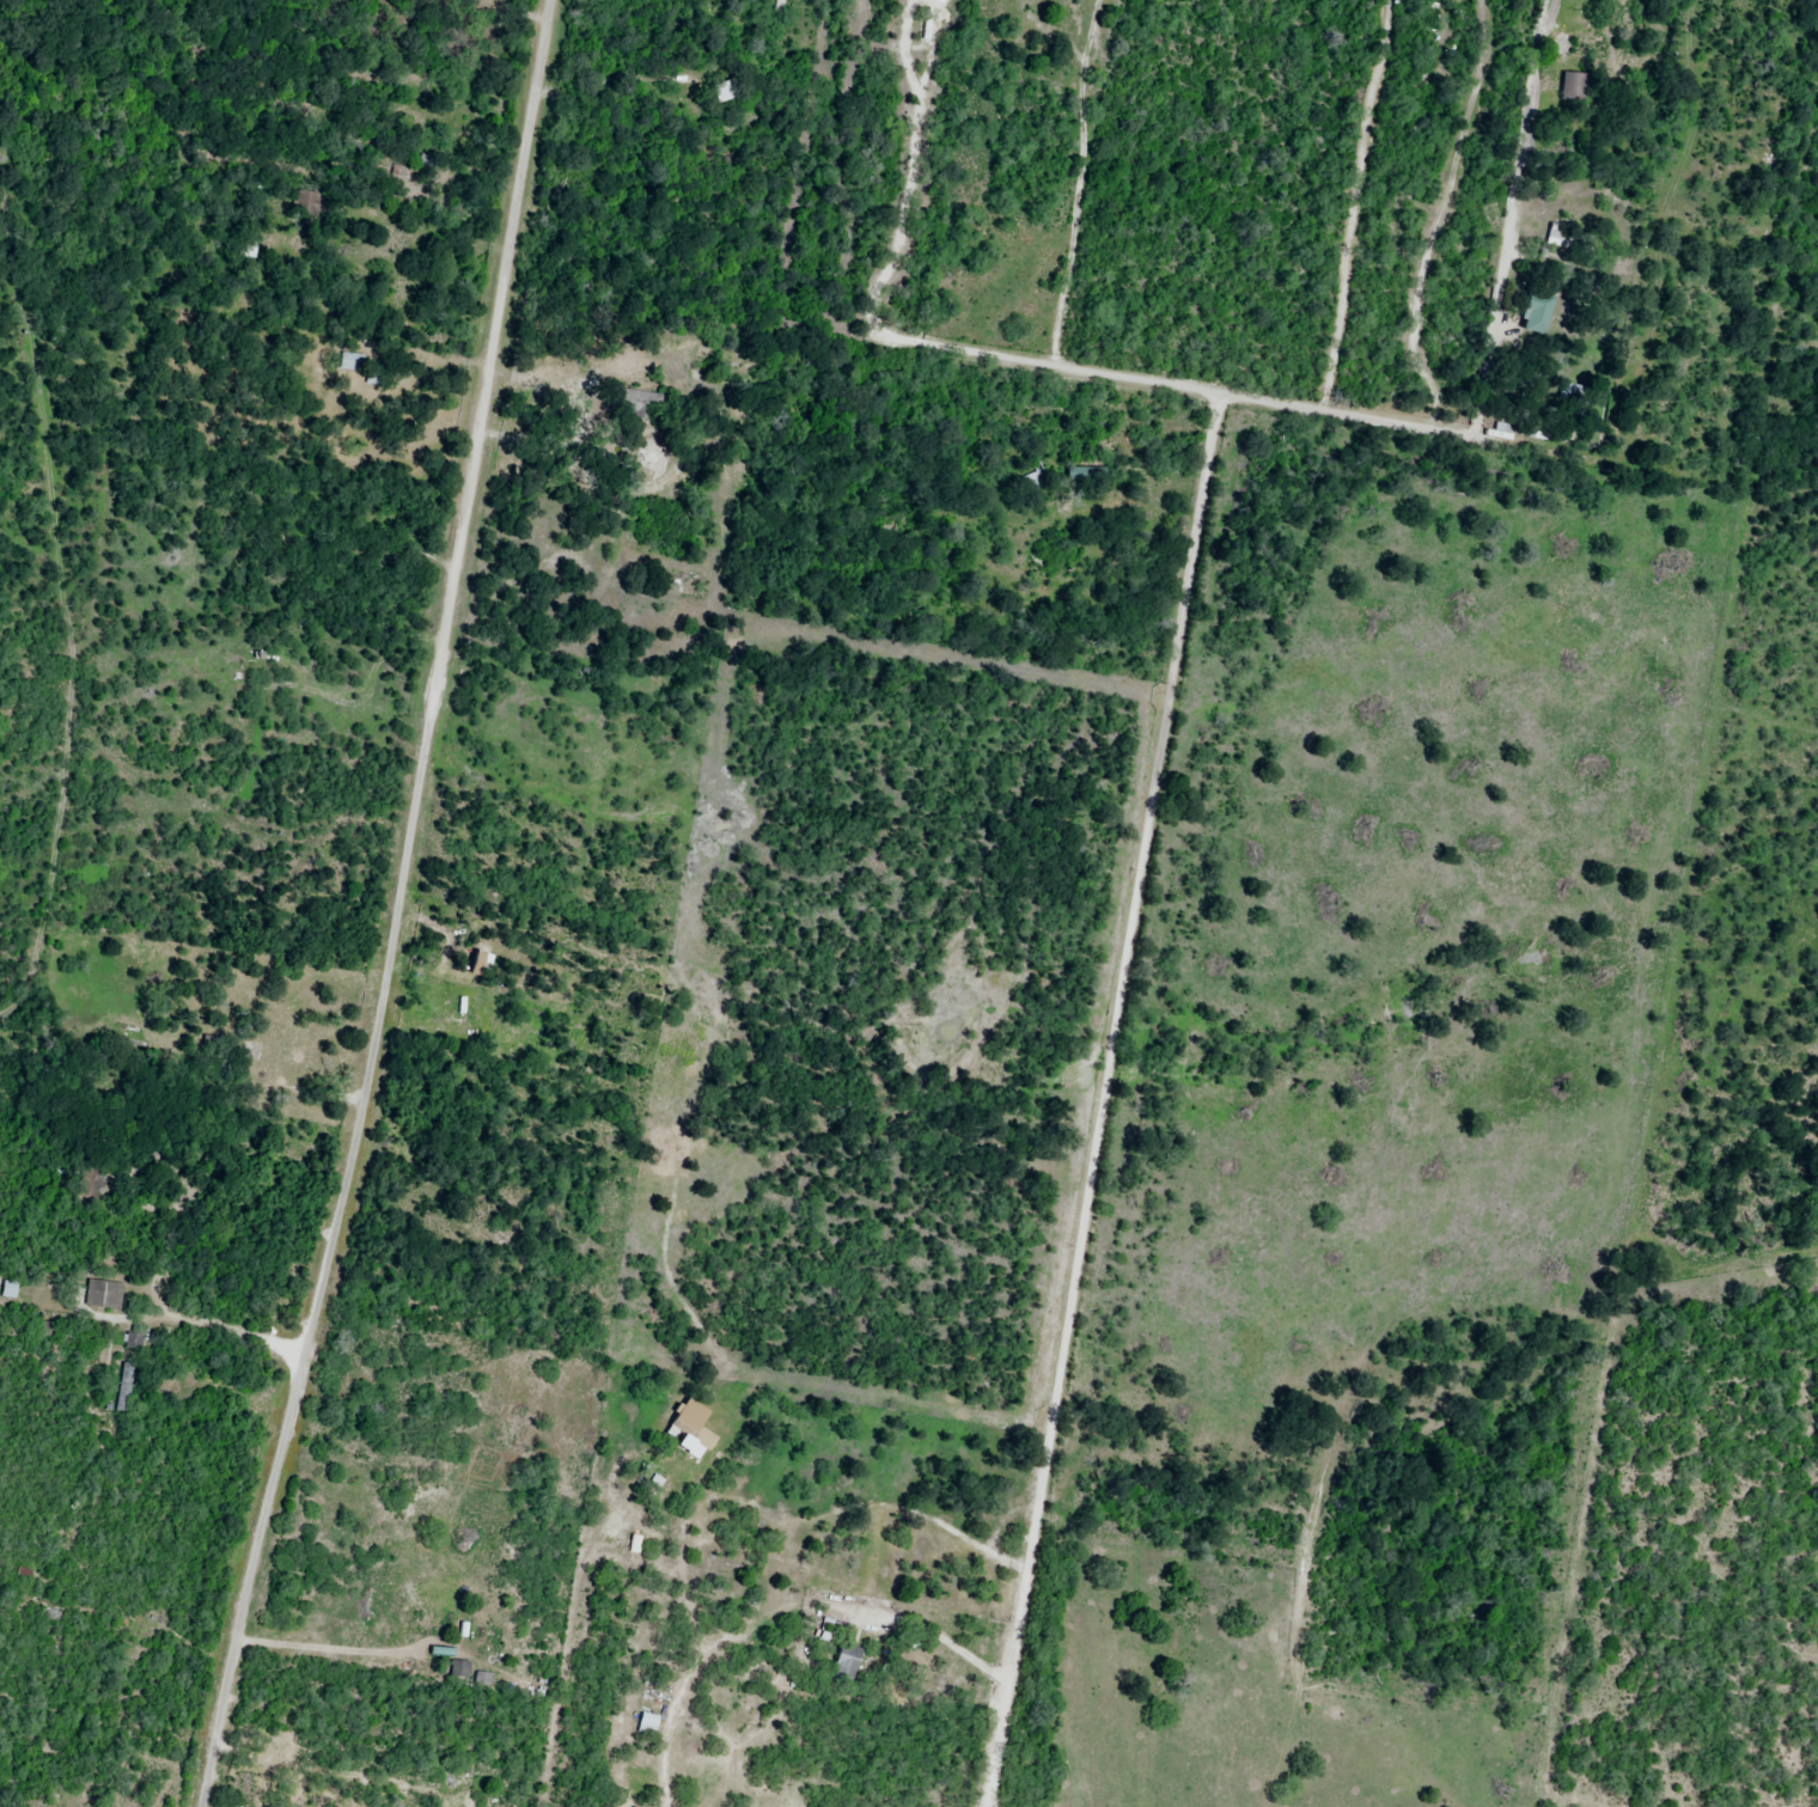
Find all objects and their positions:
building: (1573, 87)
building: (727, 91)
road: (1081, 182)
road: (1511, 219)
building: (1562, 239)
road: (895, 258)
building: (1537, 312)
building: (353, 364)
building: (372, 377)
building: (1570, 392)
road: (1265, 399)
building: (642, 407)
road: (397, 906)
road: (1103, 1100)
building: (8, 1289)
building: (104, 1296)
road: (173, 1335)
building: (134, 1342)
building: (124, 1388)
building: (689, 1435)
building: (411, 1598)
road: (787, 1624)
road: (330, 1661)
building: (846, 1665)
building: (459, 1671)
building: (482, 1681)
building: (648, 1724)

